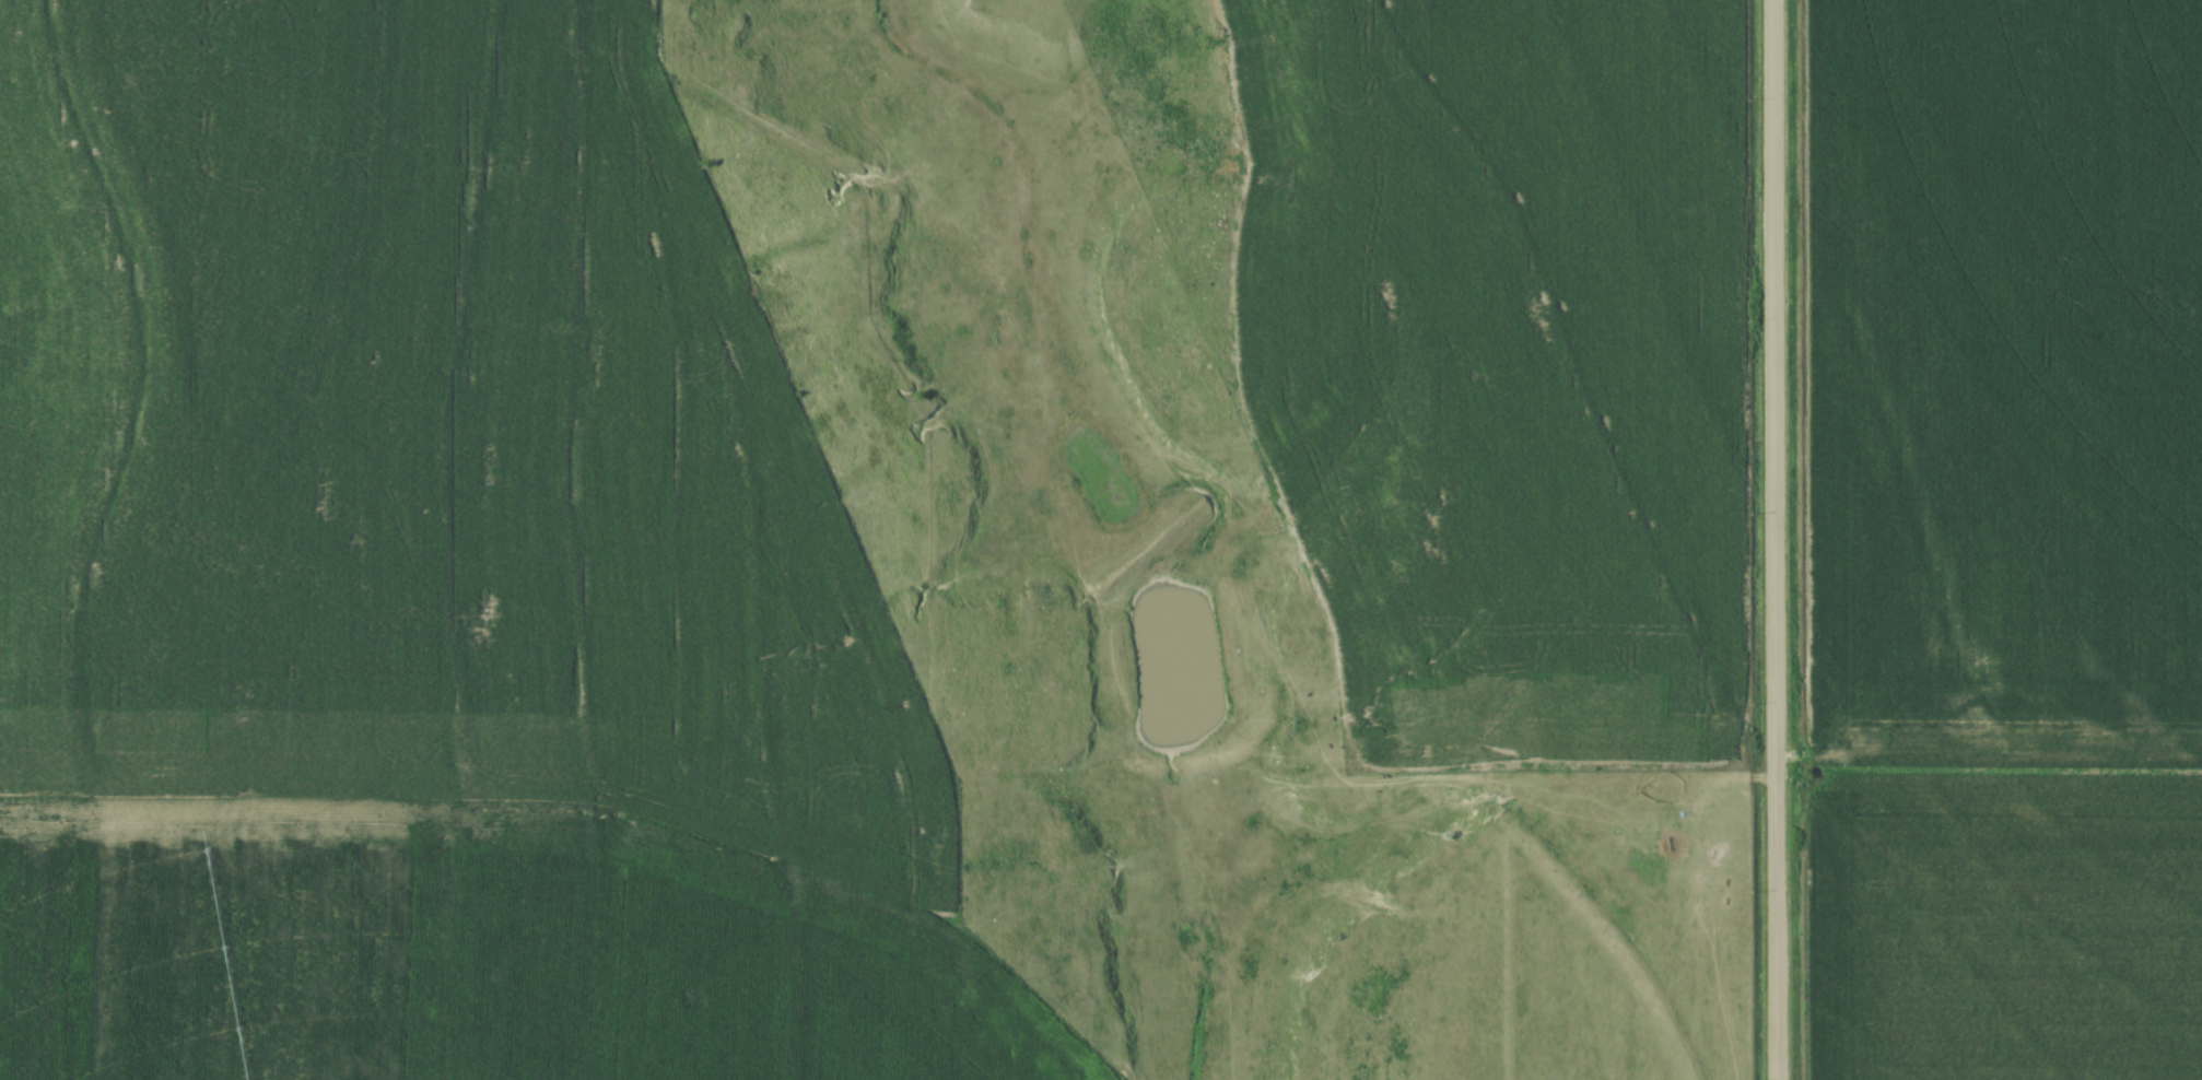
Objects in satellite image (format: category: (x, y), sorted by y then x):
road: (1768, 540)

